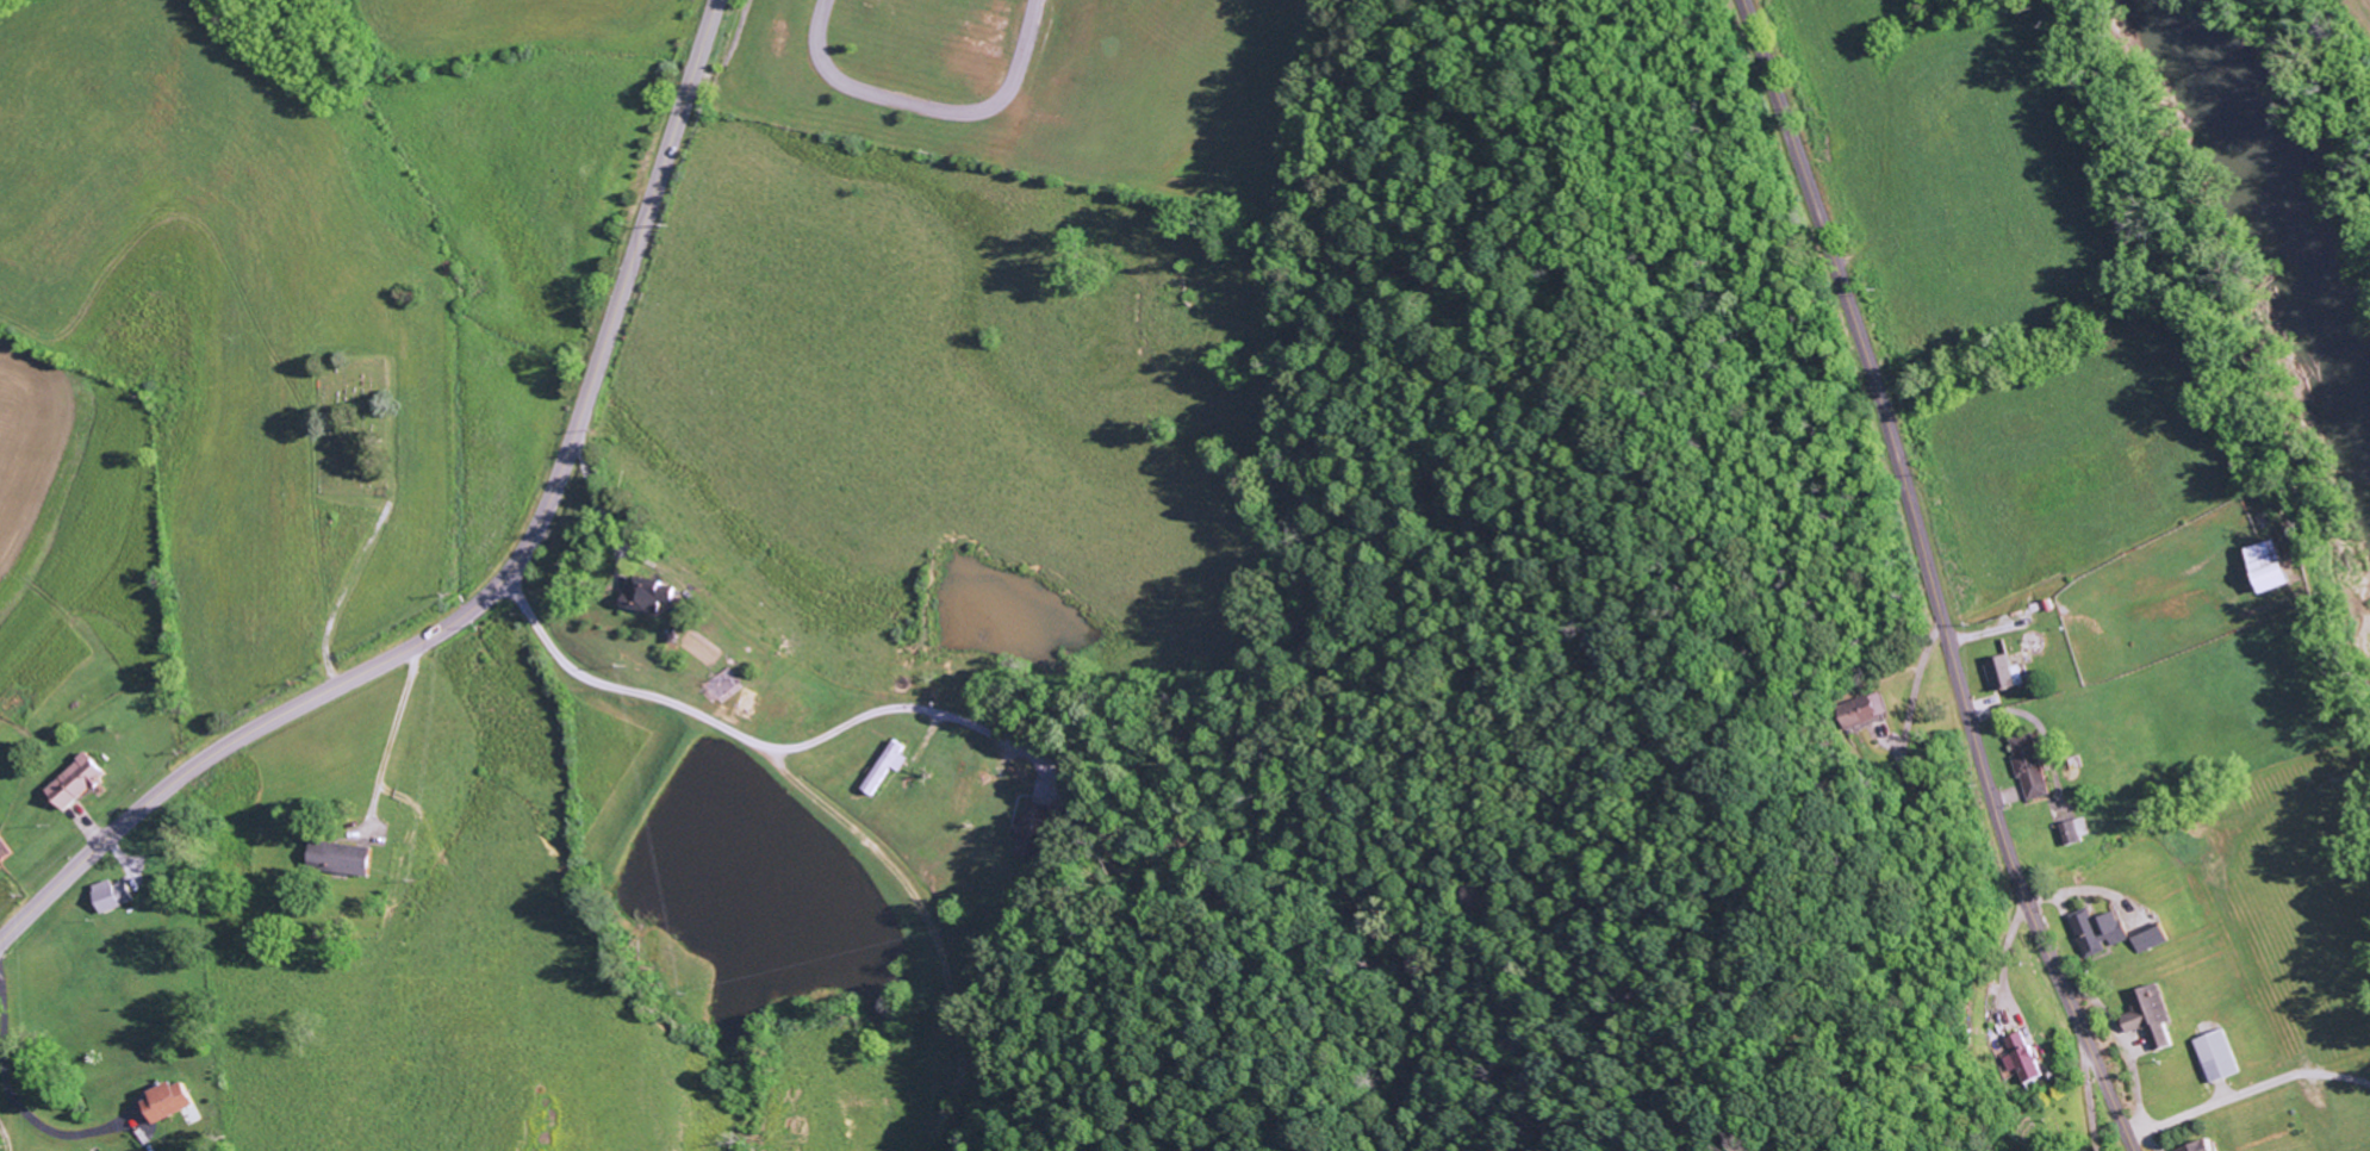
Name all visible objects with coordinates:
river: (2297, 231)
park: (354, 423)
building: (2260, 566)
road: (1929, 578)
road: (504, 581)
building: (649, 598)
road: (536, 632)
building: (1997, 673)
building: (1856, 710)
building: (888, 764)
building: (2023, 767)
building: (79, 780)
building: (1038, 826)
building: (2069, 830)
building: (4, 850)
building: (343, 858)
building: (114, 895)
building: (2092, 931)
building: (2145, 1014)
building: (2210, 1054)
building: (2014, 1057)
building: (172, 1102)
building: (2194, 1146)

